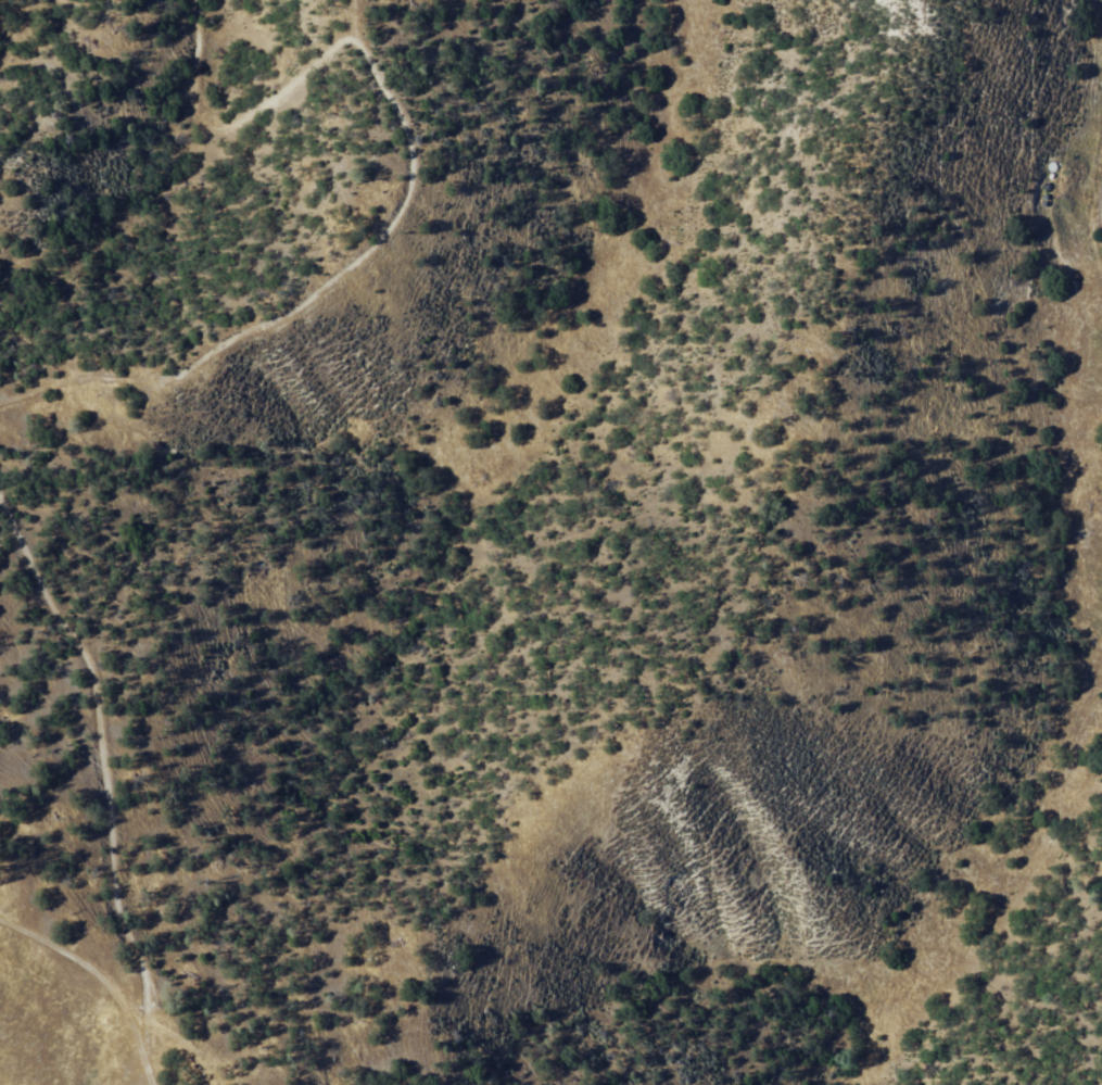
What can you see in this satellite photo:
road: (404, 197)
building: (1101, 206)
road: (99, 787)
road: (94, 972)
road: (182, 1054)

